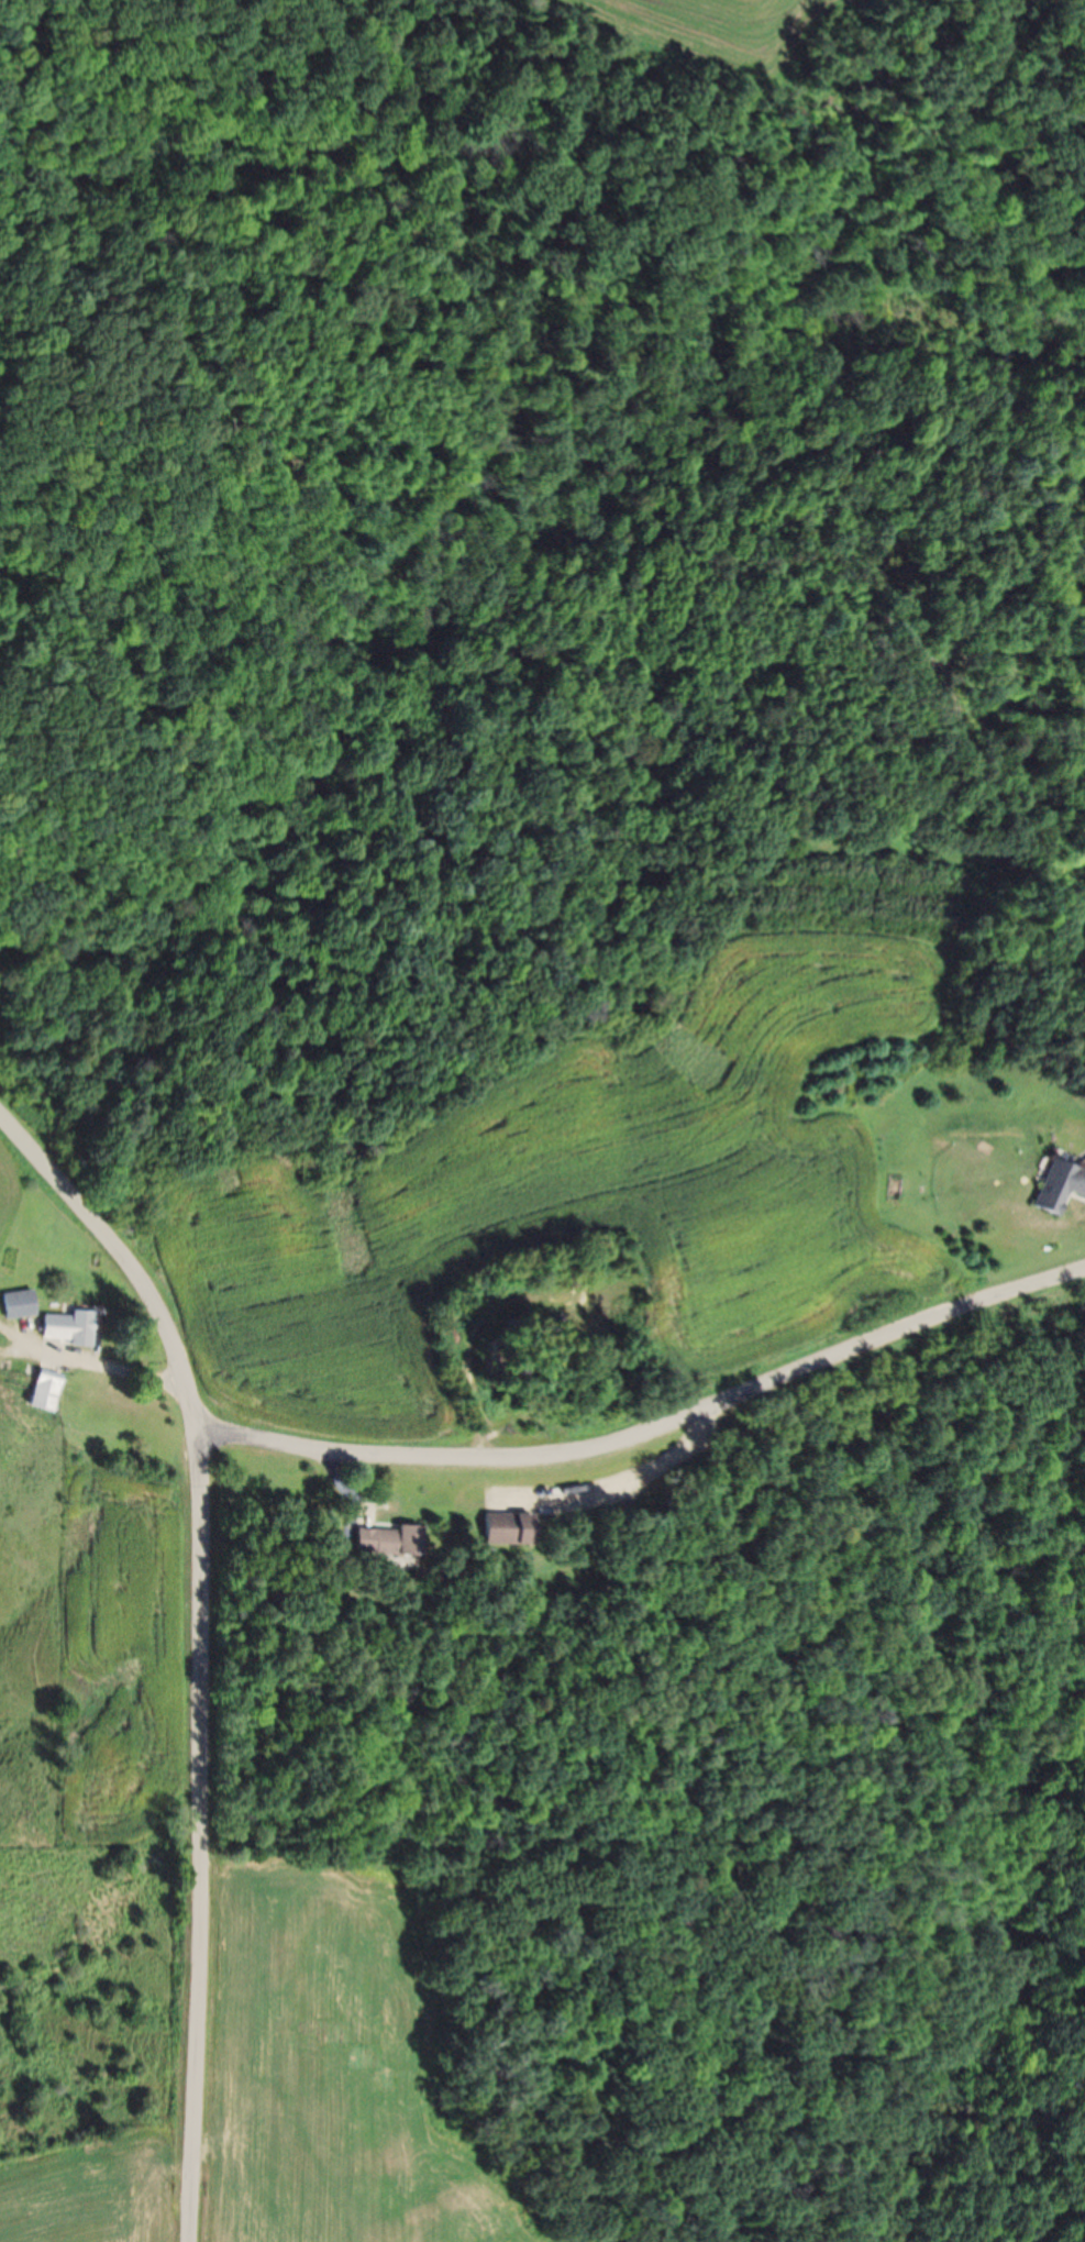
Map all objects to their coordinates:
building: (1059, 1188)
building: (24, 1304)
building: (73, 1328)
building: (53, 1392)
road: (652, 1431)
building: (506, 1529)
building: (387, 1542)
road: (198, 1648)

